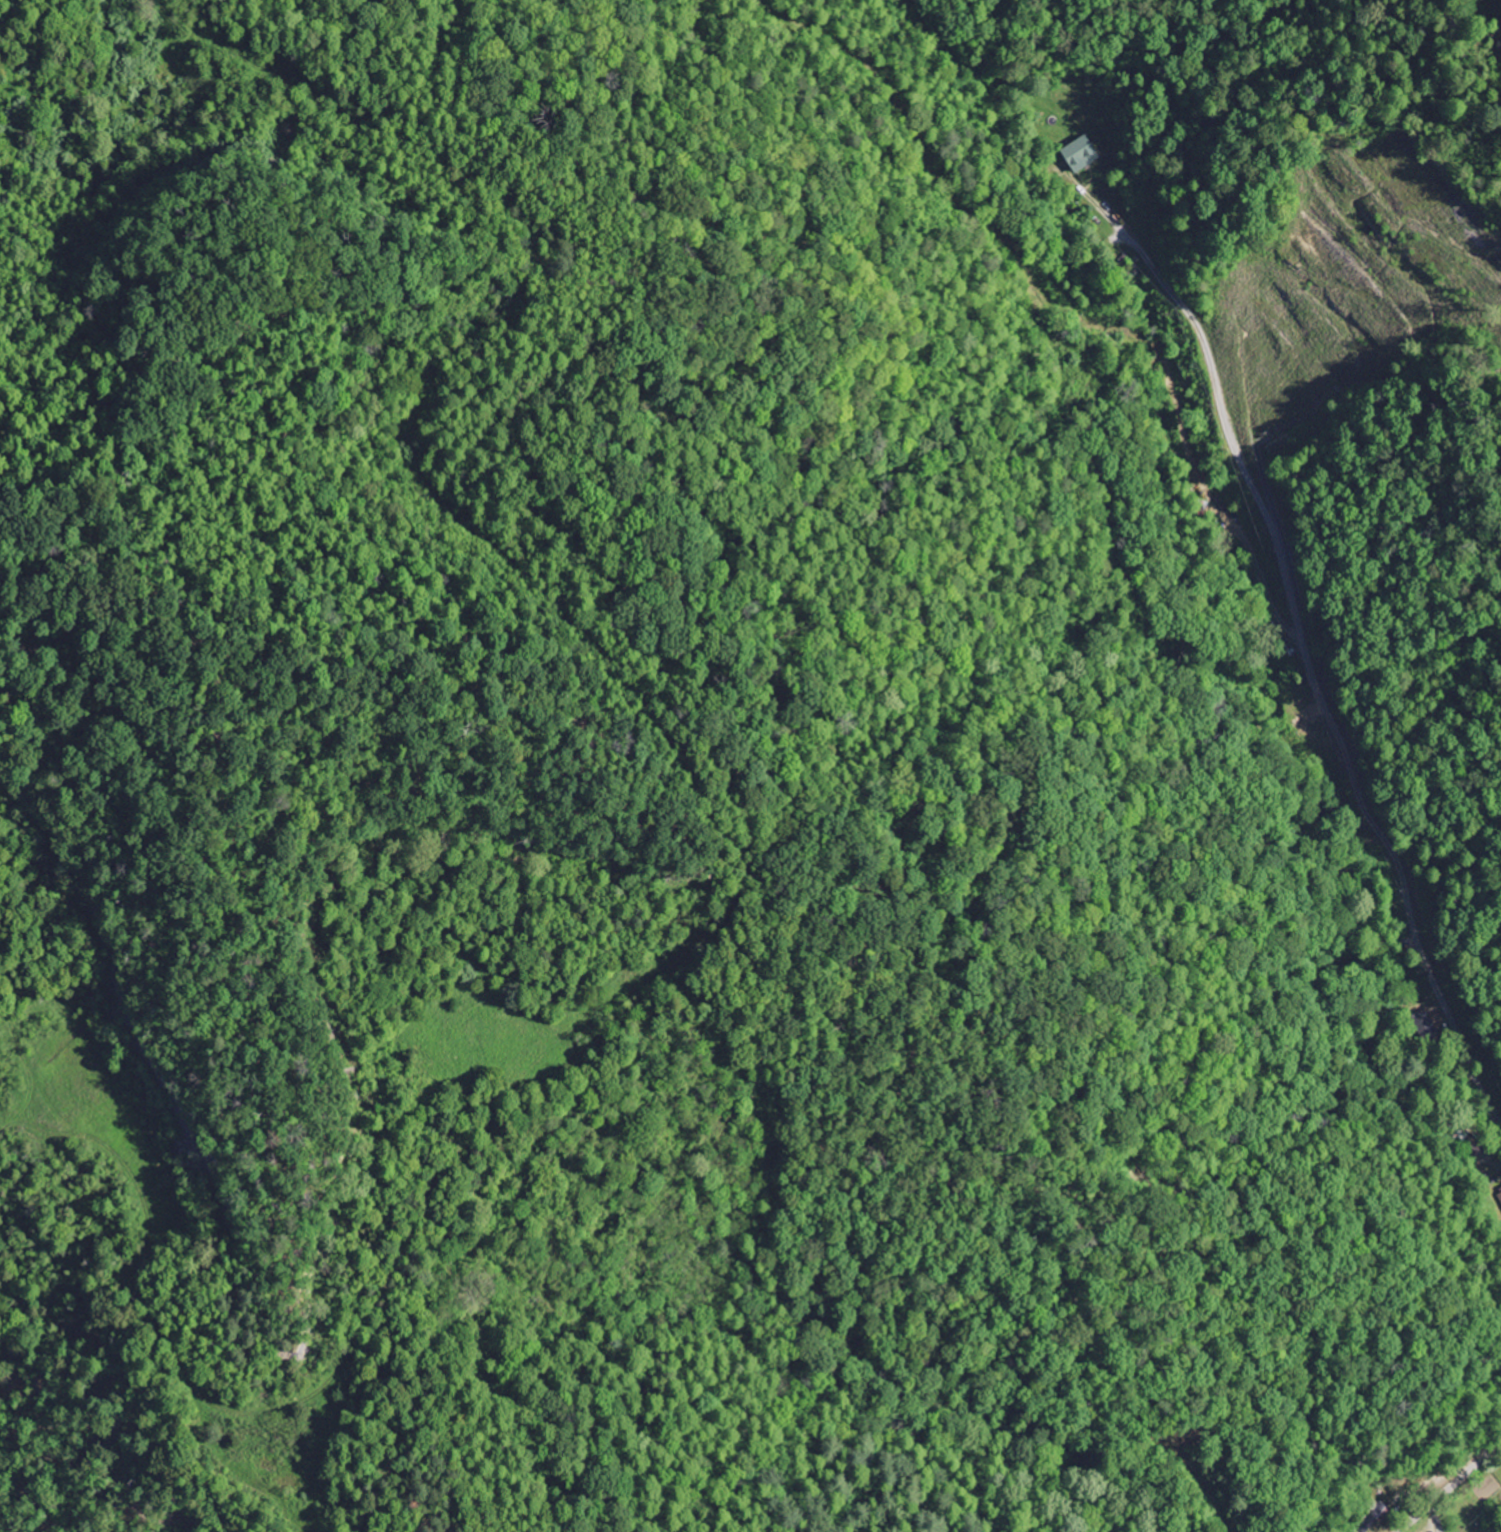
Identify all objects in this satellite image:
building: (1083, 154)
road: (1300, 632)
road: (1449, 1487)

